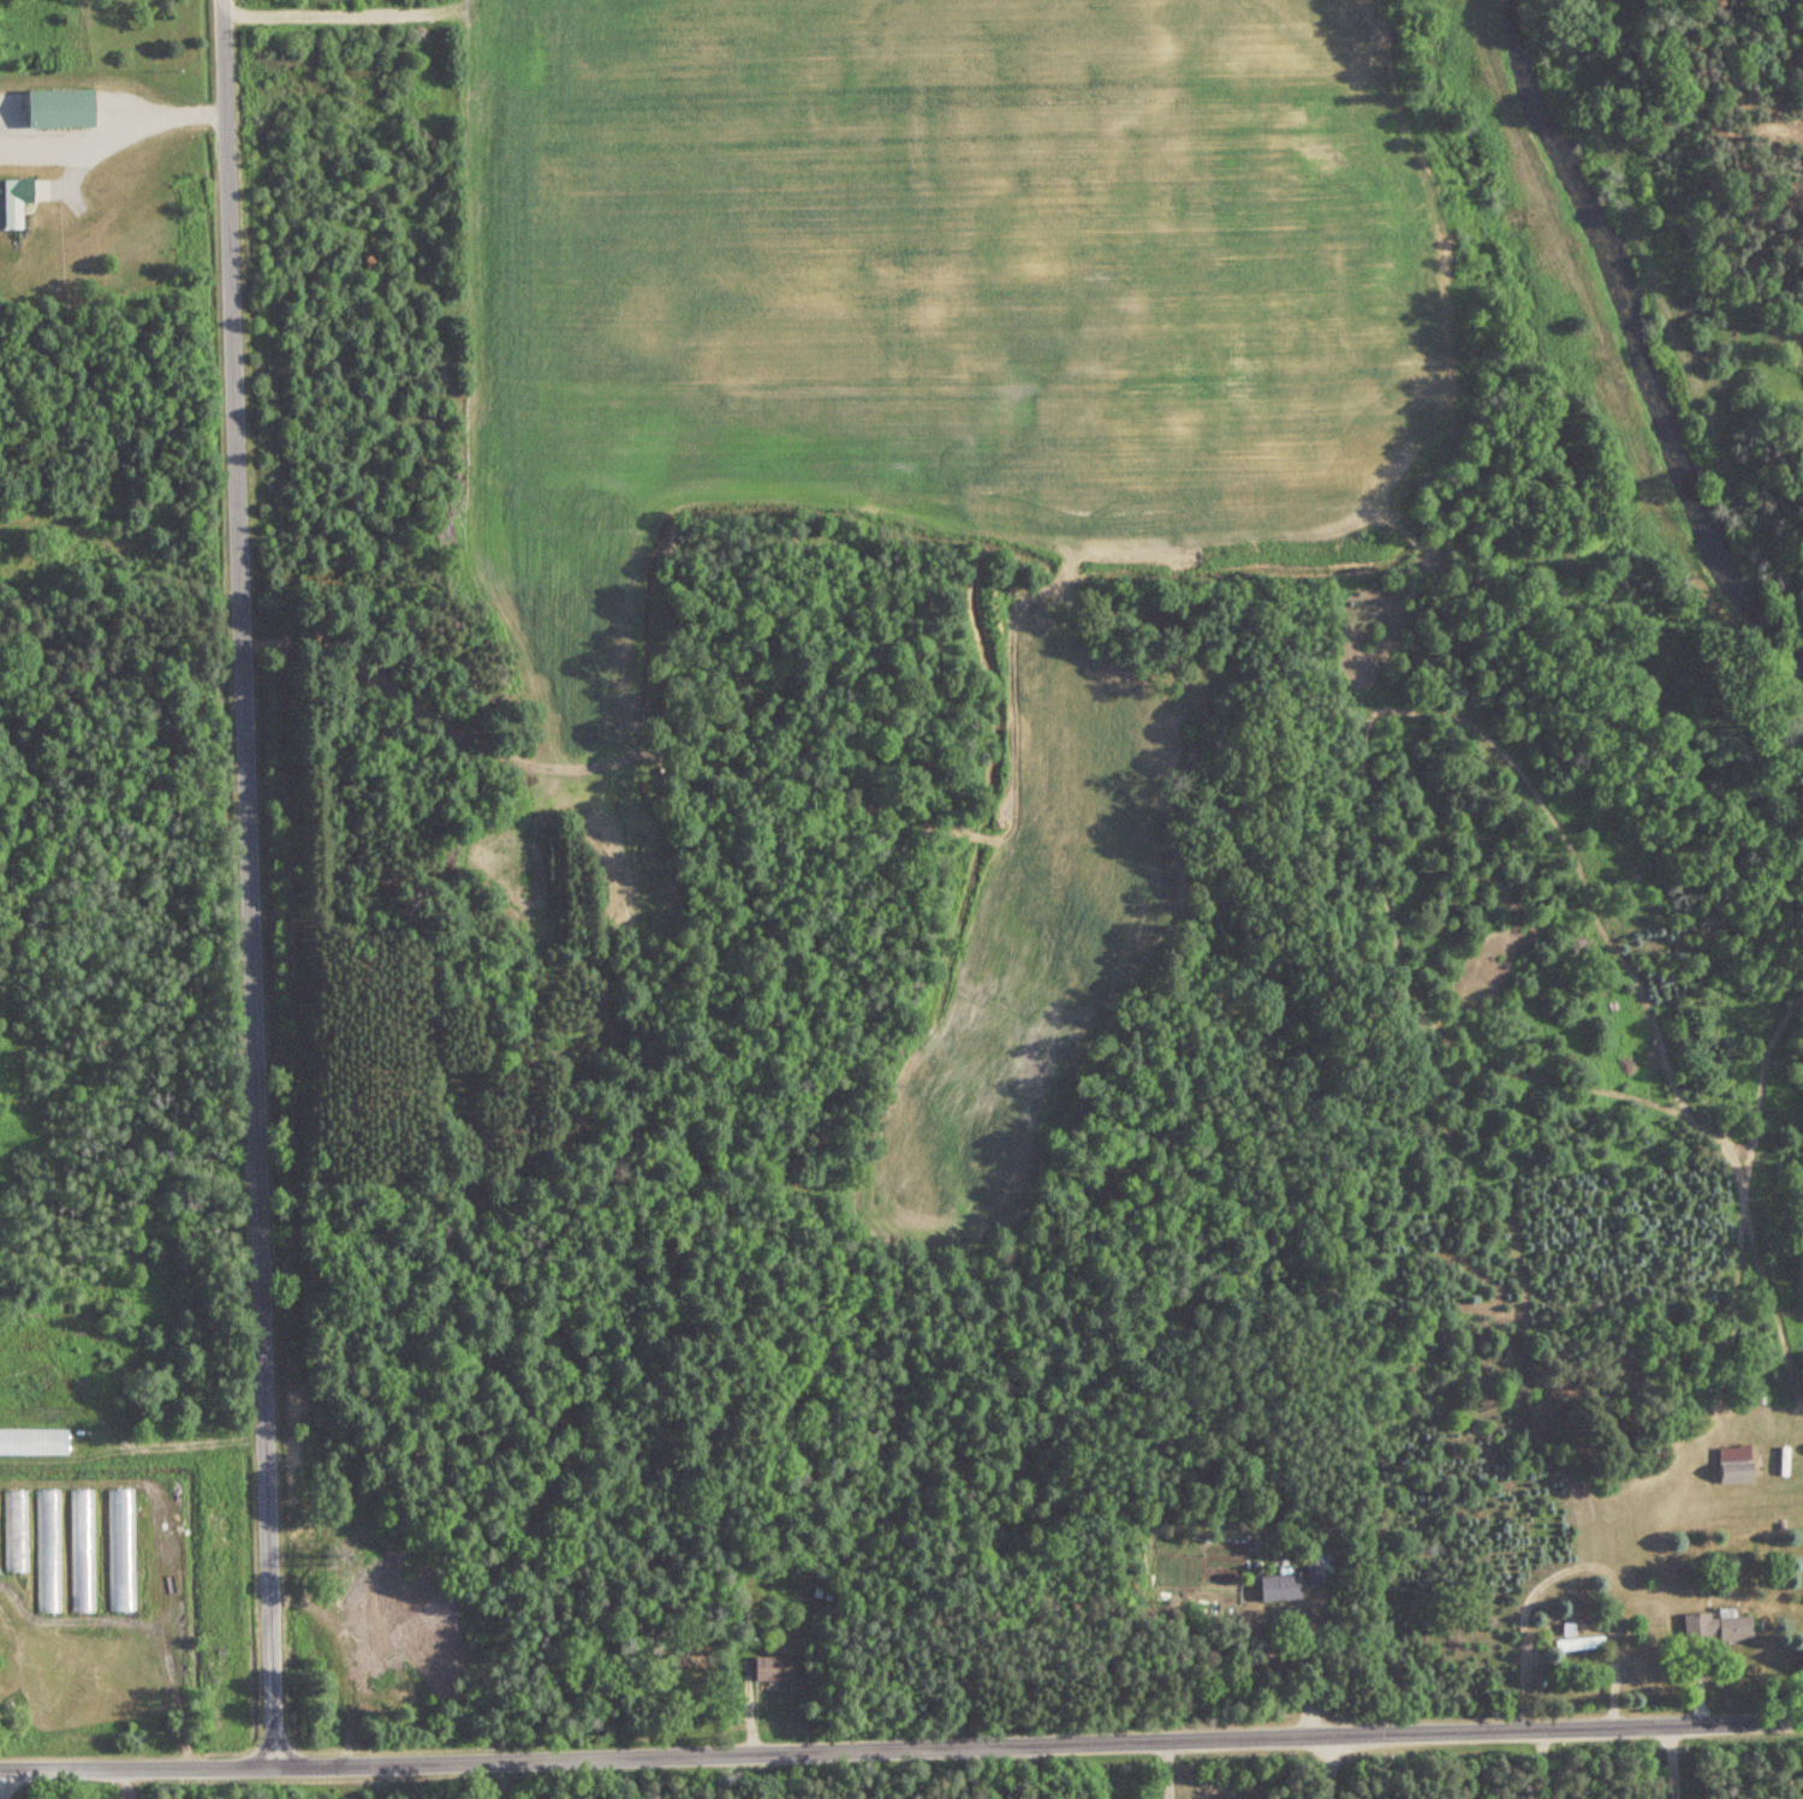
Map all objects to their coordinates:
building: (64, 108)
road: (125, 123)
building: (14, 202)
road: (245, 884)
building: (35, 1442)
building: (1728, 1465)
building: (16, 1532)
building: (123, 1550)
building: (83, 1551)
road: (1569, 1568)
building: (1314, 1571)
building: (1281, 1586)
building: (1718, 1627)
building: (1578, 1644)
road: (1260, 1662)
building: (383, 1669)
building: (774, 1669)
road: (901, 1750)
road: (1662, 1762)
road: (1539, 1764)
road: (1316, 1768)
road: (1166, 1770)
road: (127, 1782)

